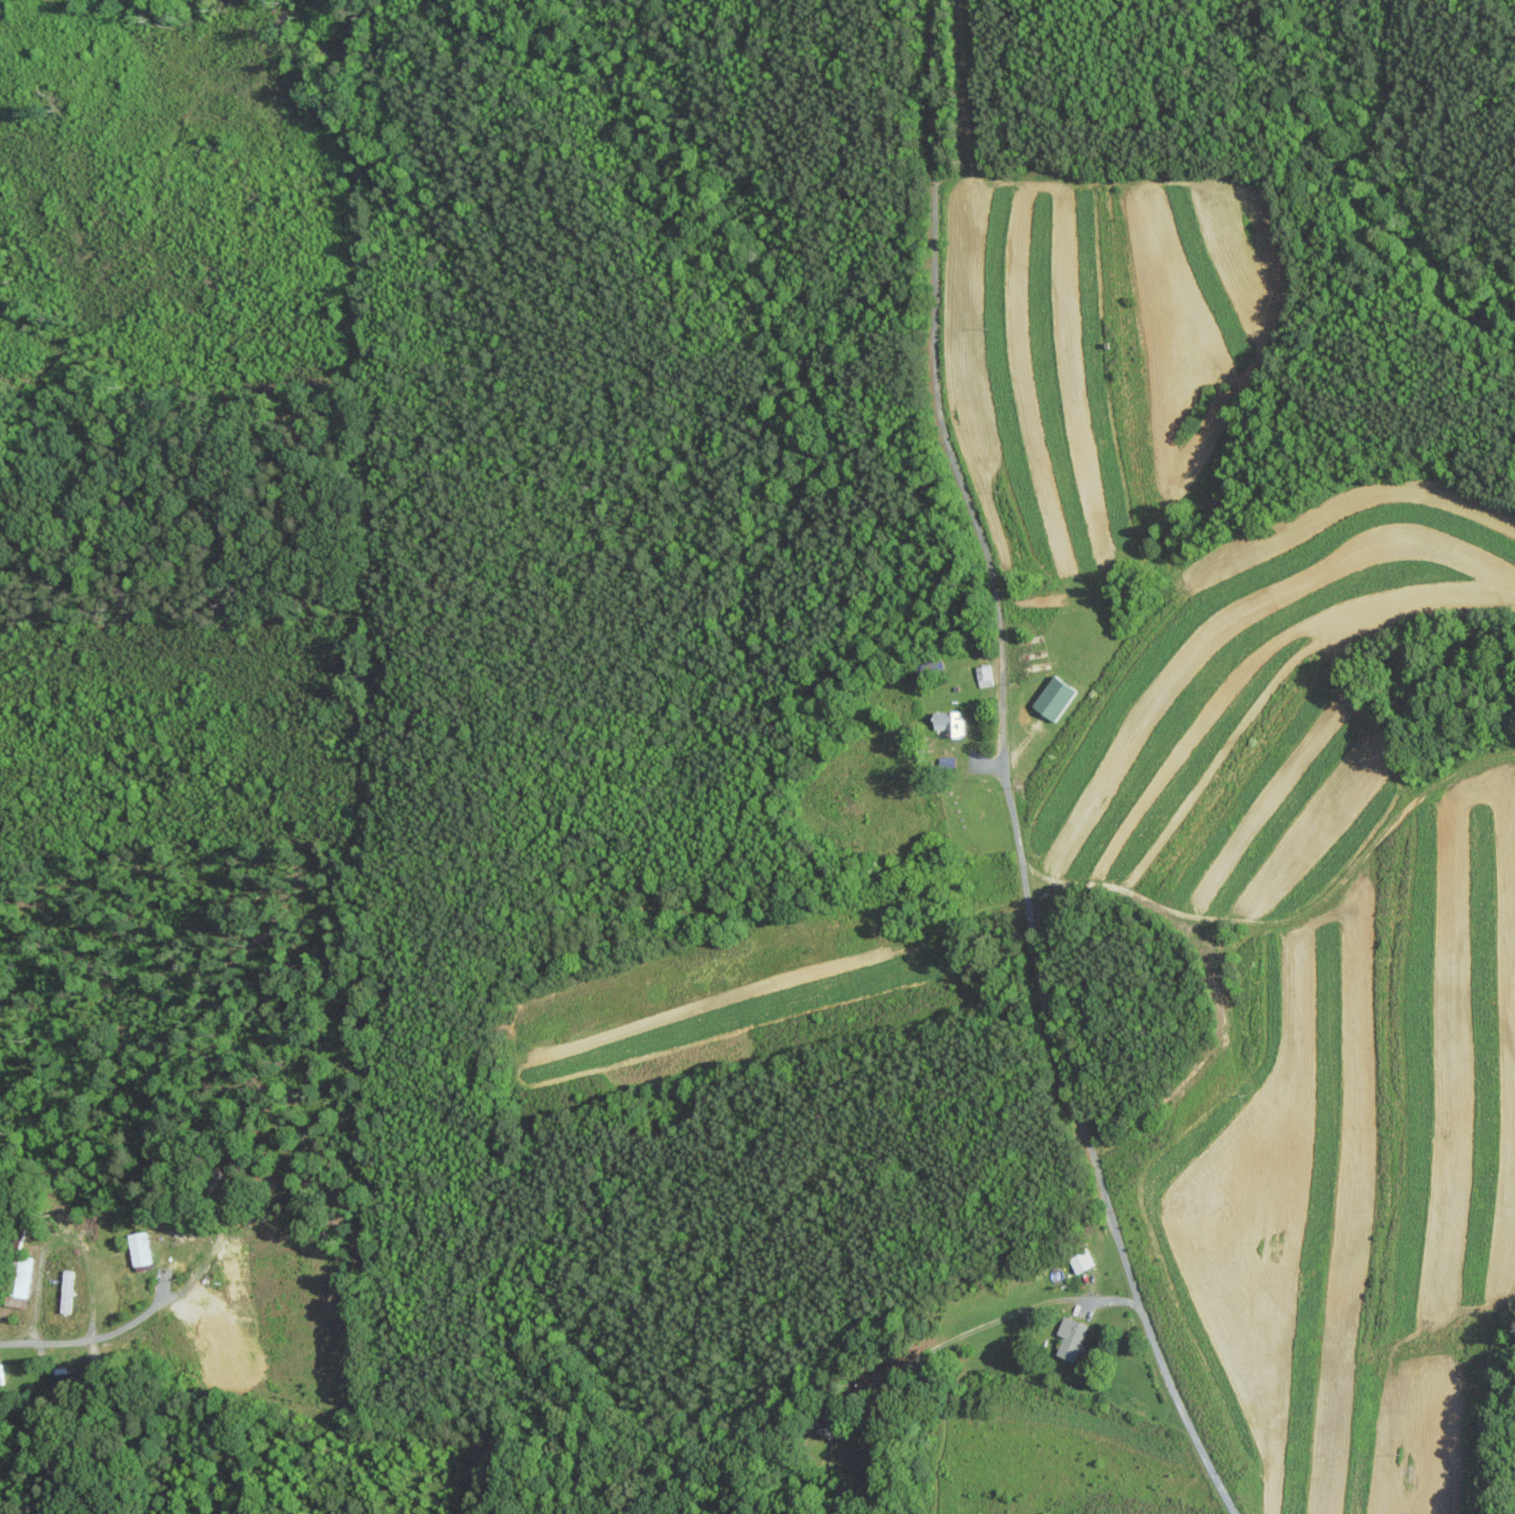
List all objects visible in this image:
building: (985, 675)
building: (1056, 697)
building: (951, 722)
road: (1001, 772)
road: (57, 1238)
building: (140, 1249)
building: (1082, 1262)
building: (21, 1285)
road: (131, 1322)
road: (984, 1323)
building: (1071, 1337)
building: (0, 1374)

